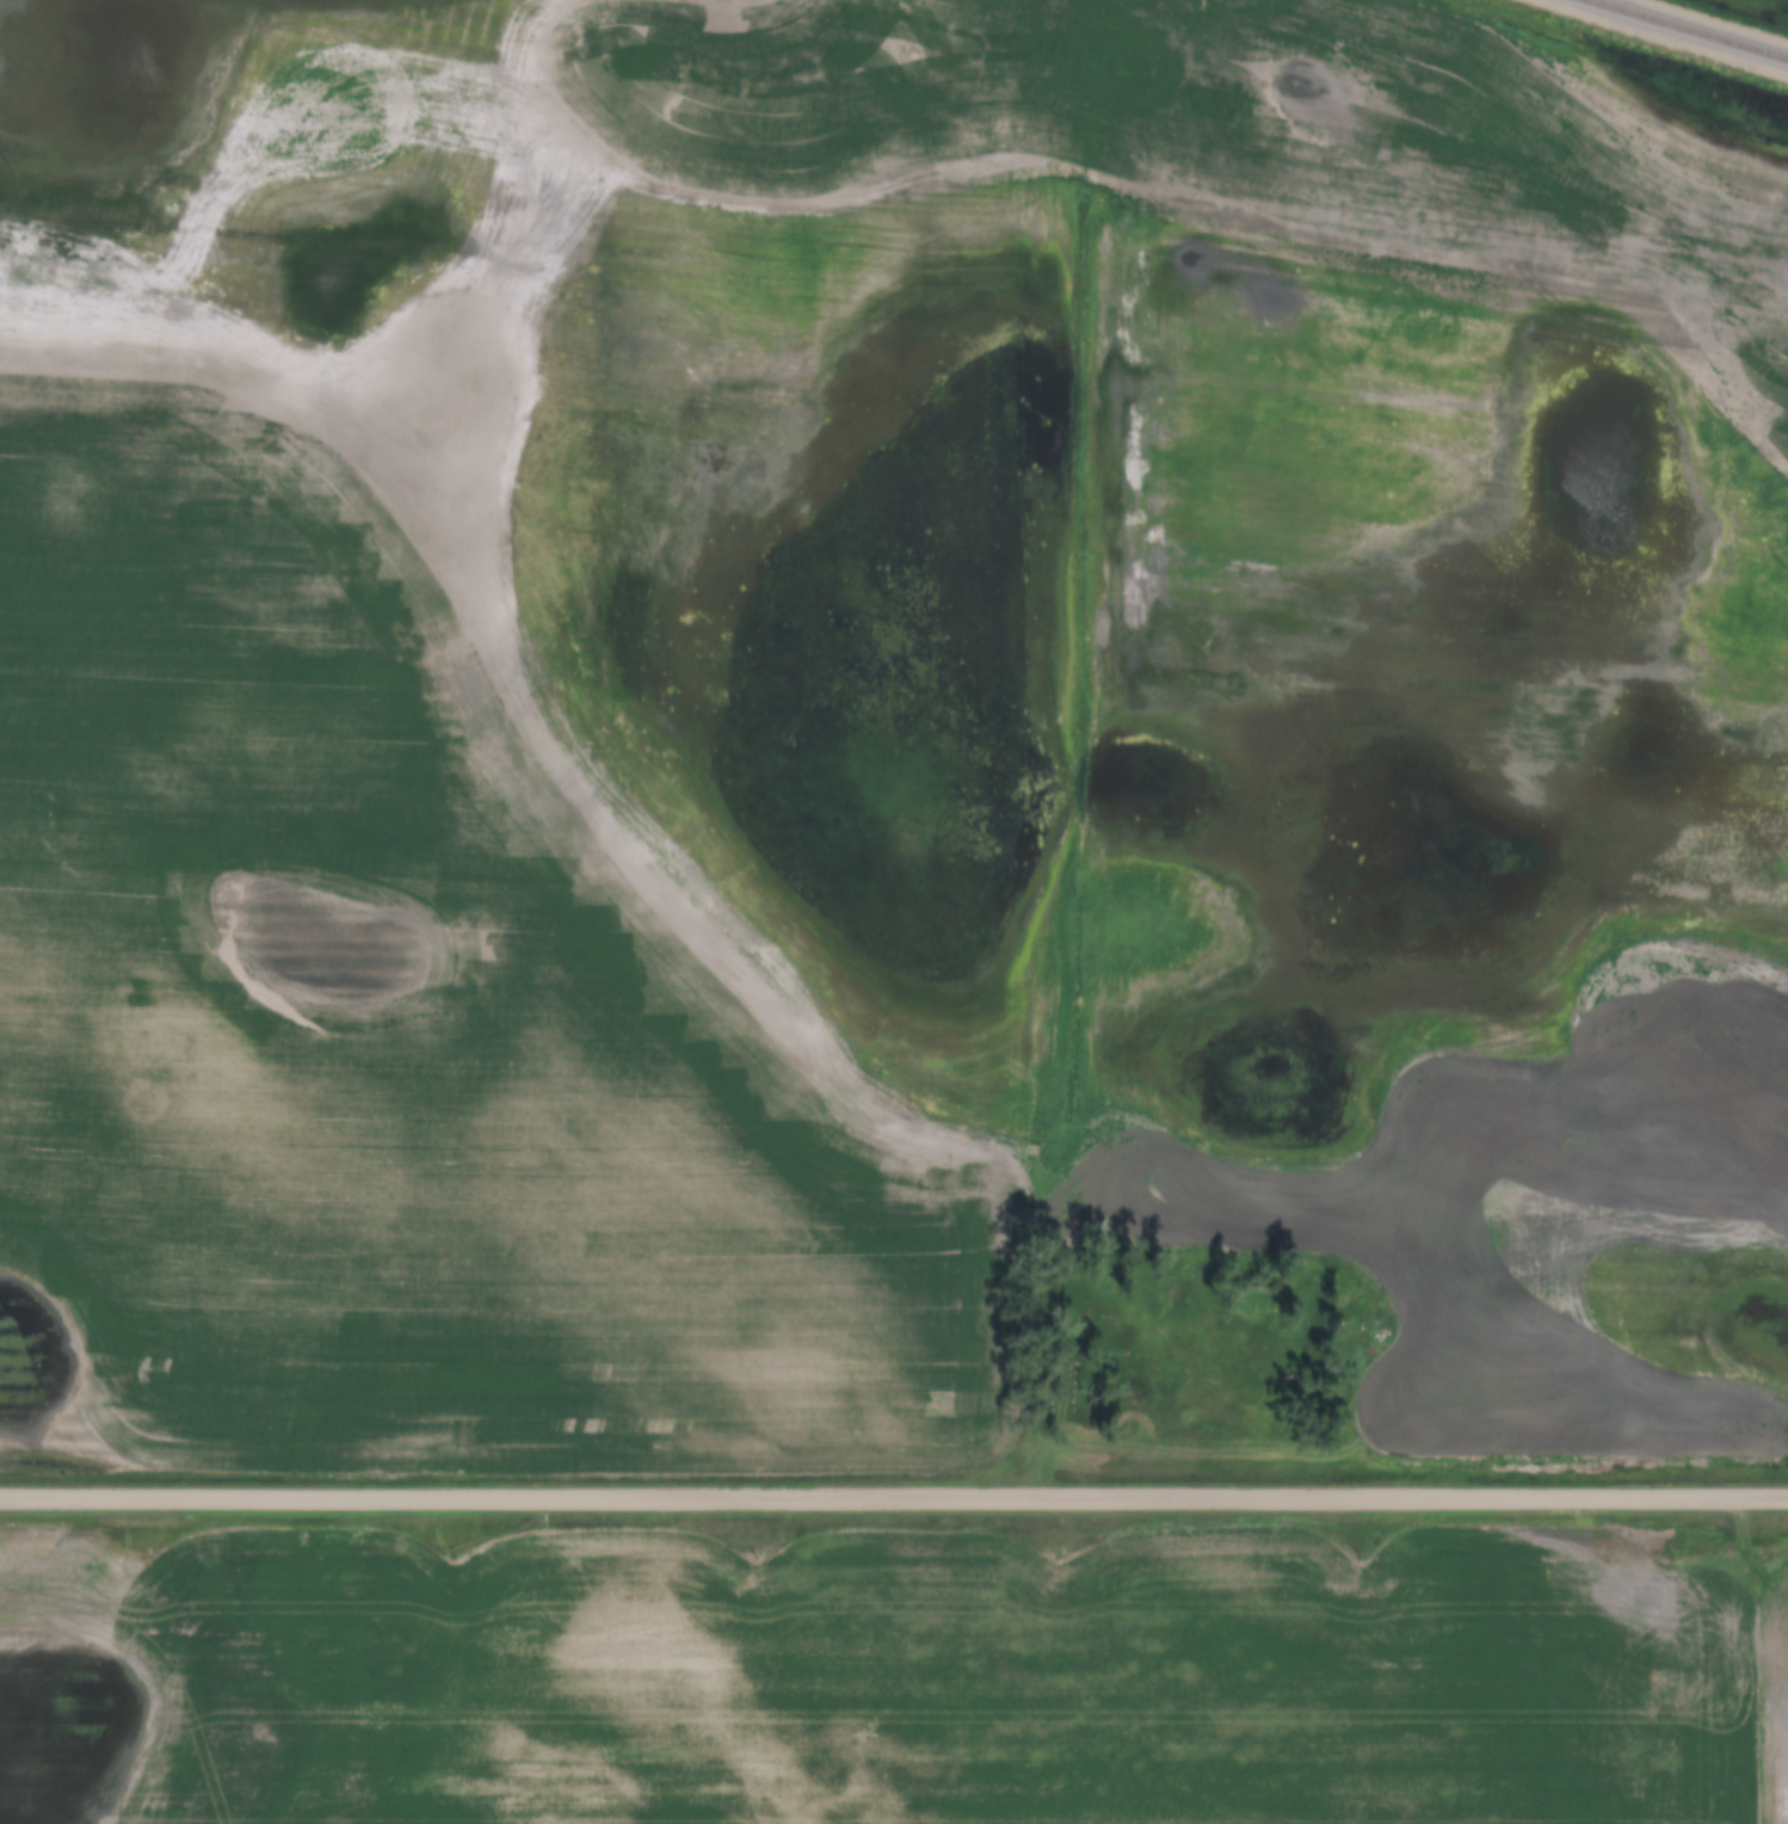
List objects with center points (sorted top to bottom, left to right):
railway: (1684, 30)
road: (1054, 1401)
road: (893, 1498)

